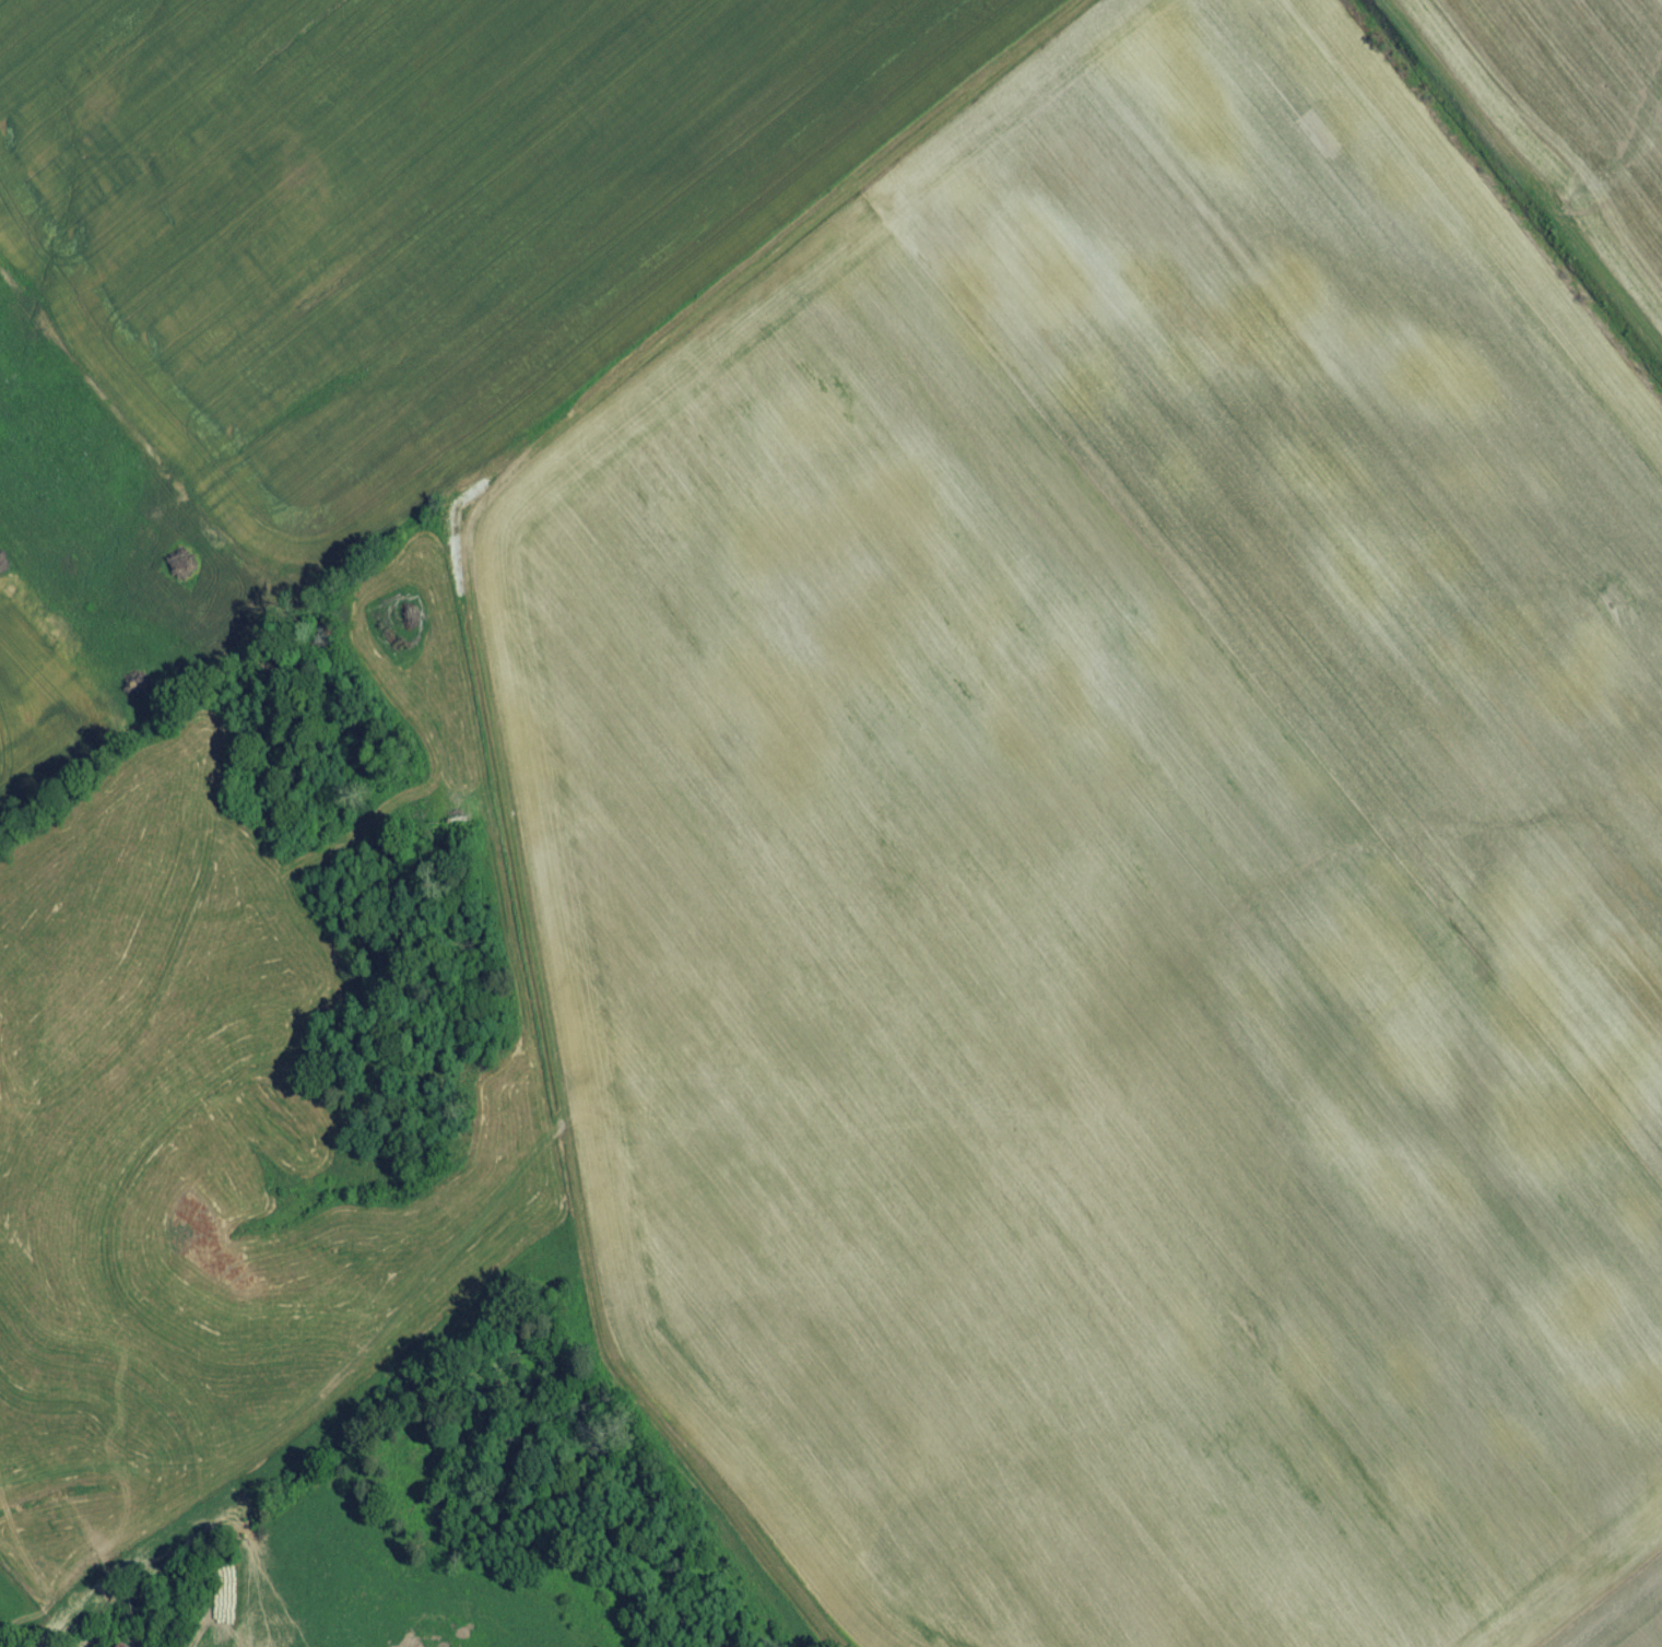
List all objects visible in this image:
building: (120, 1646)

